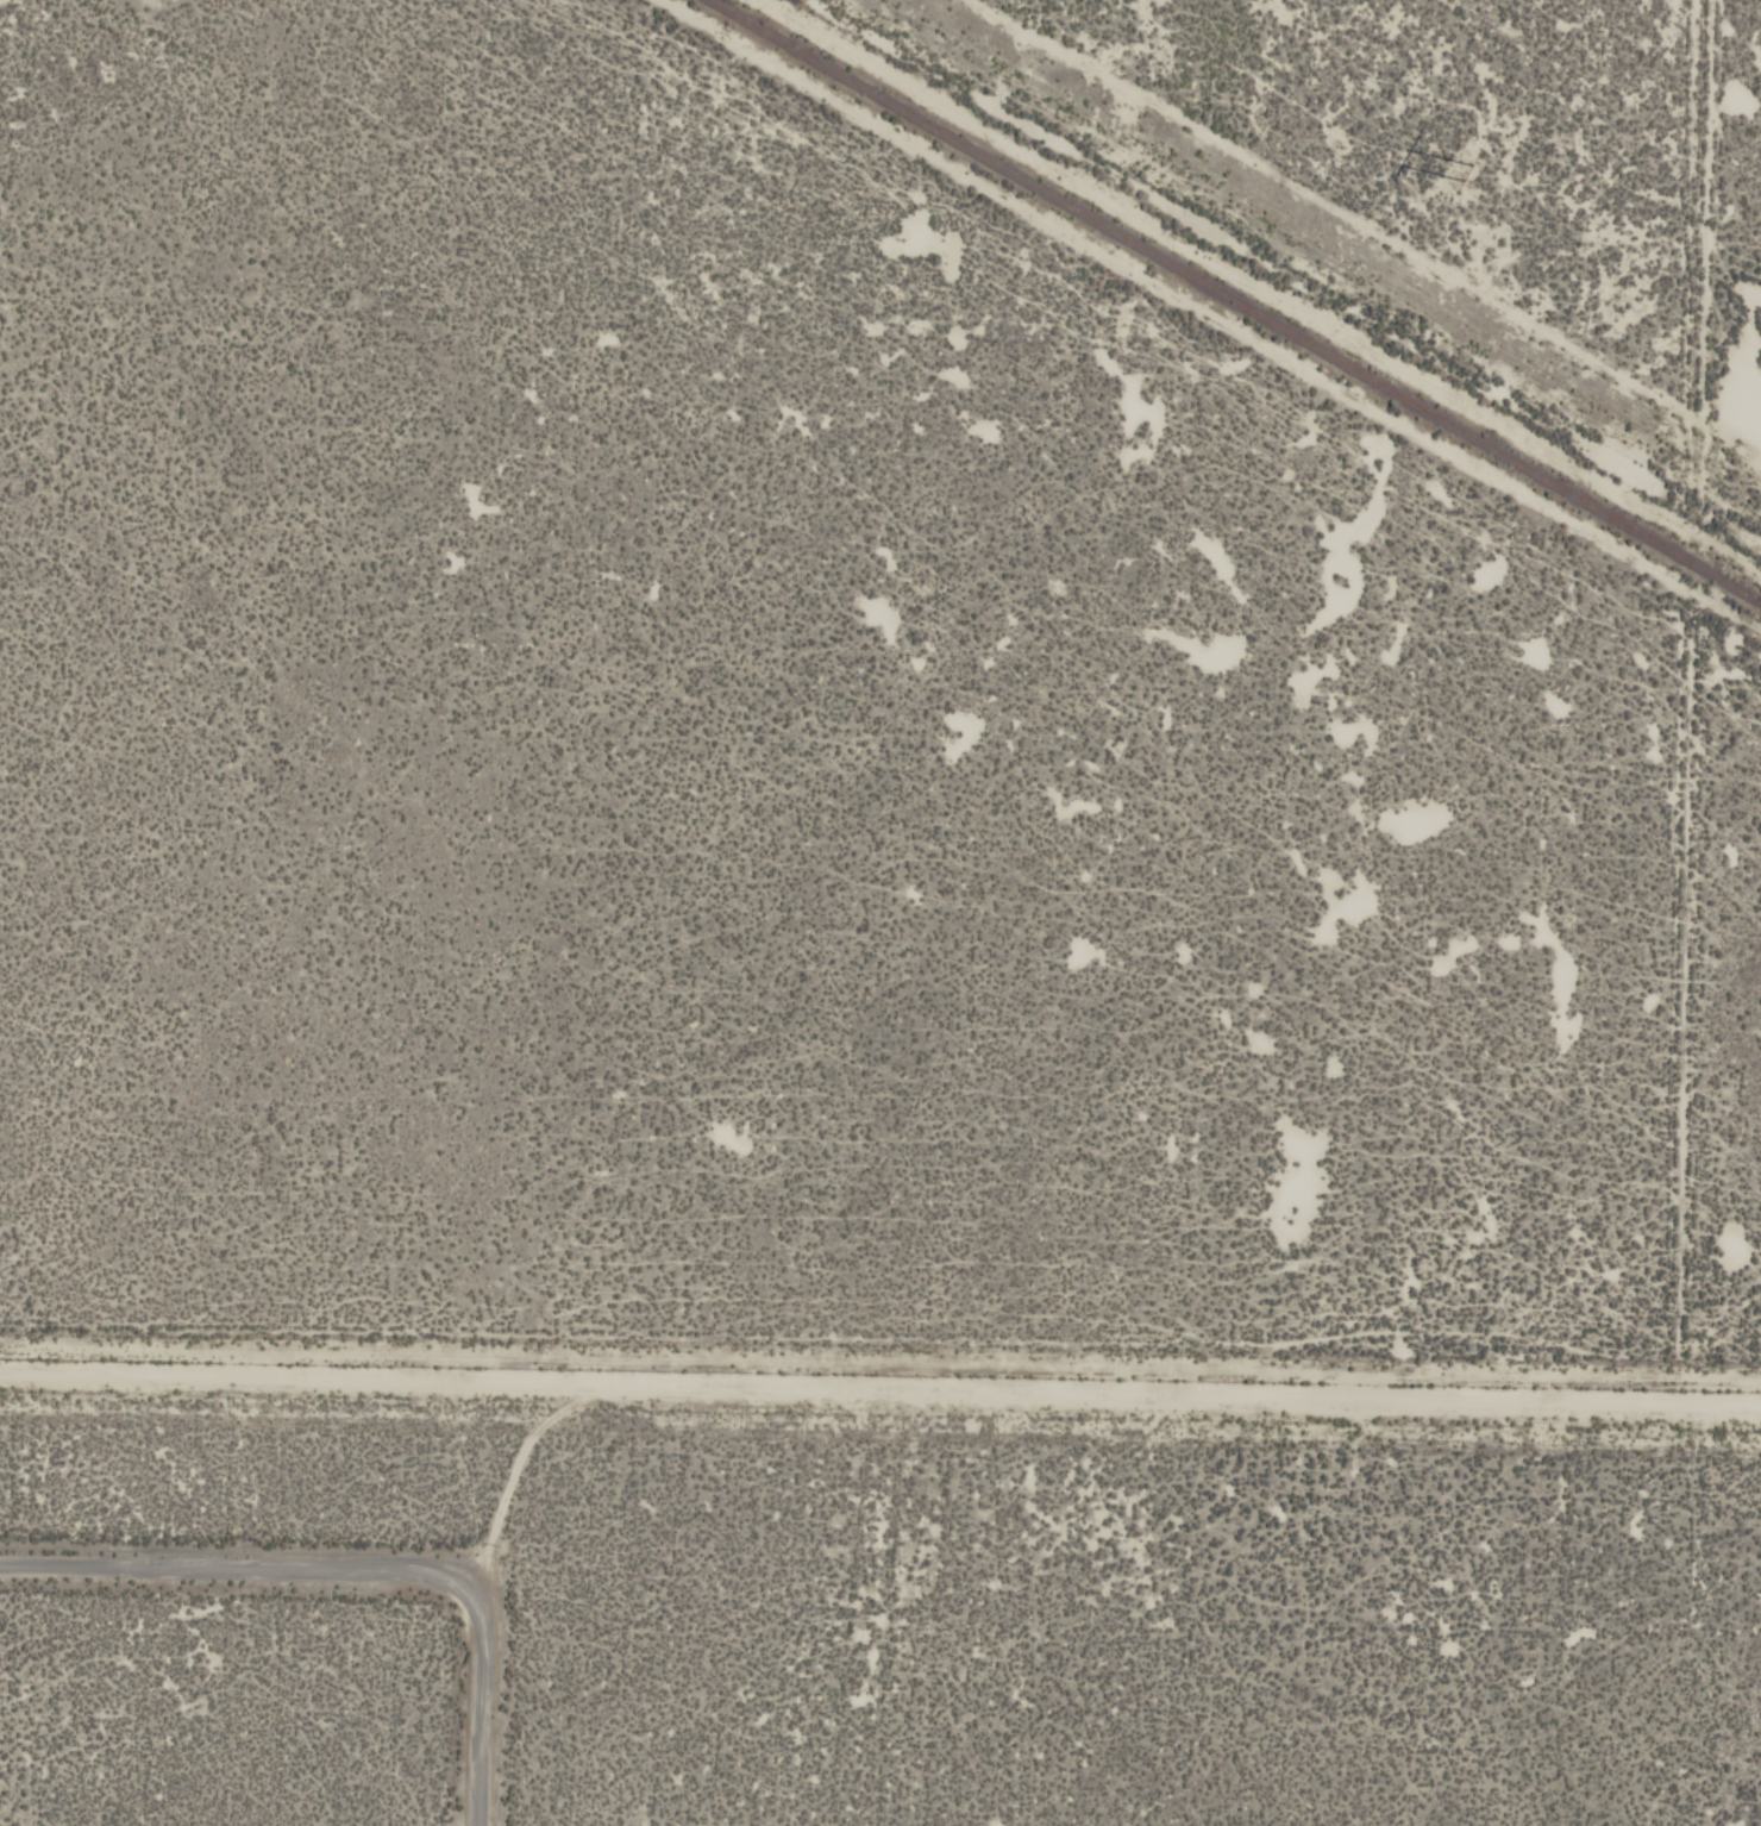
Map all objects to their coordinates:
power tower: (1459, 171)
road: (879, 1395)
road: (368, 1558)
airport: (869, 1611)

